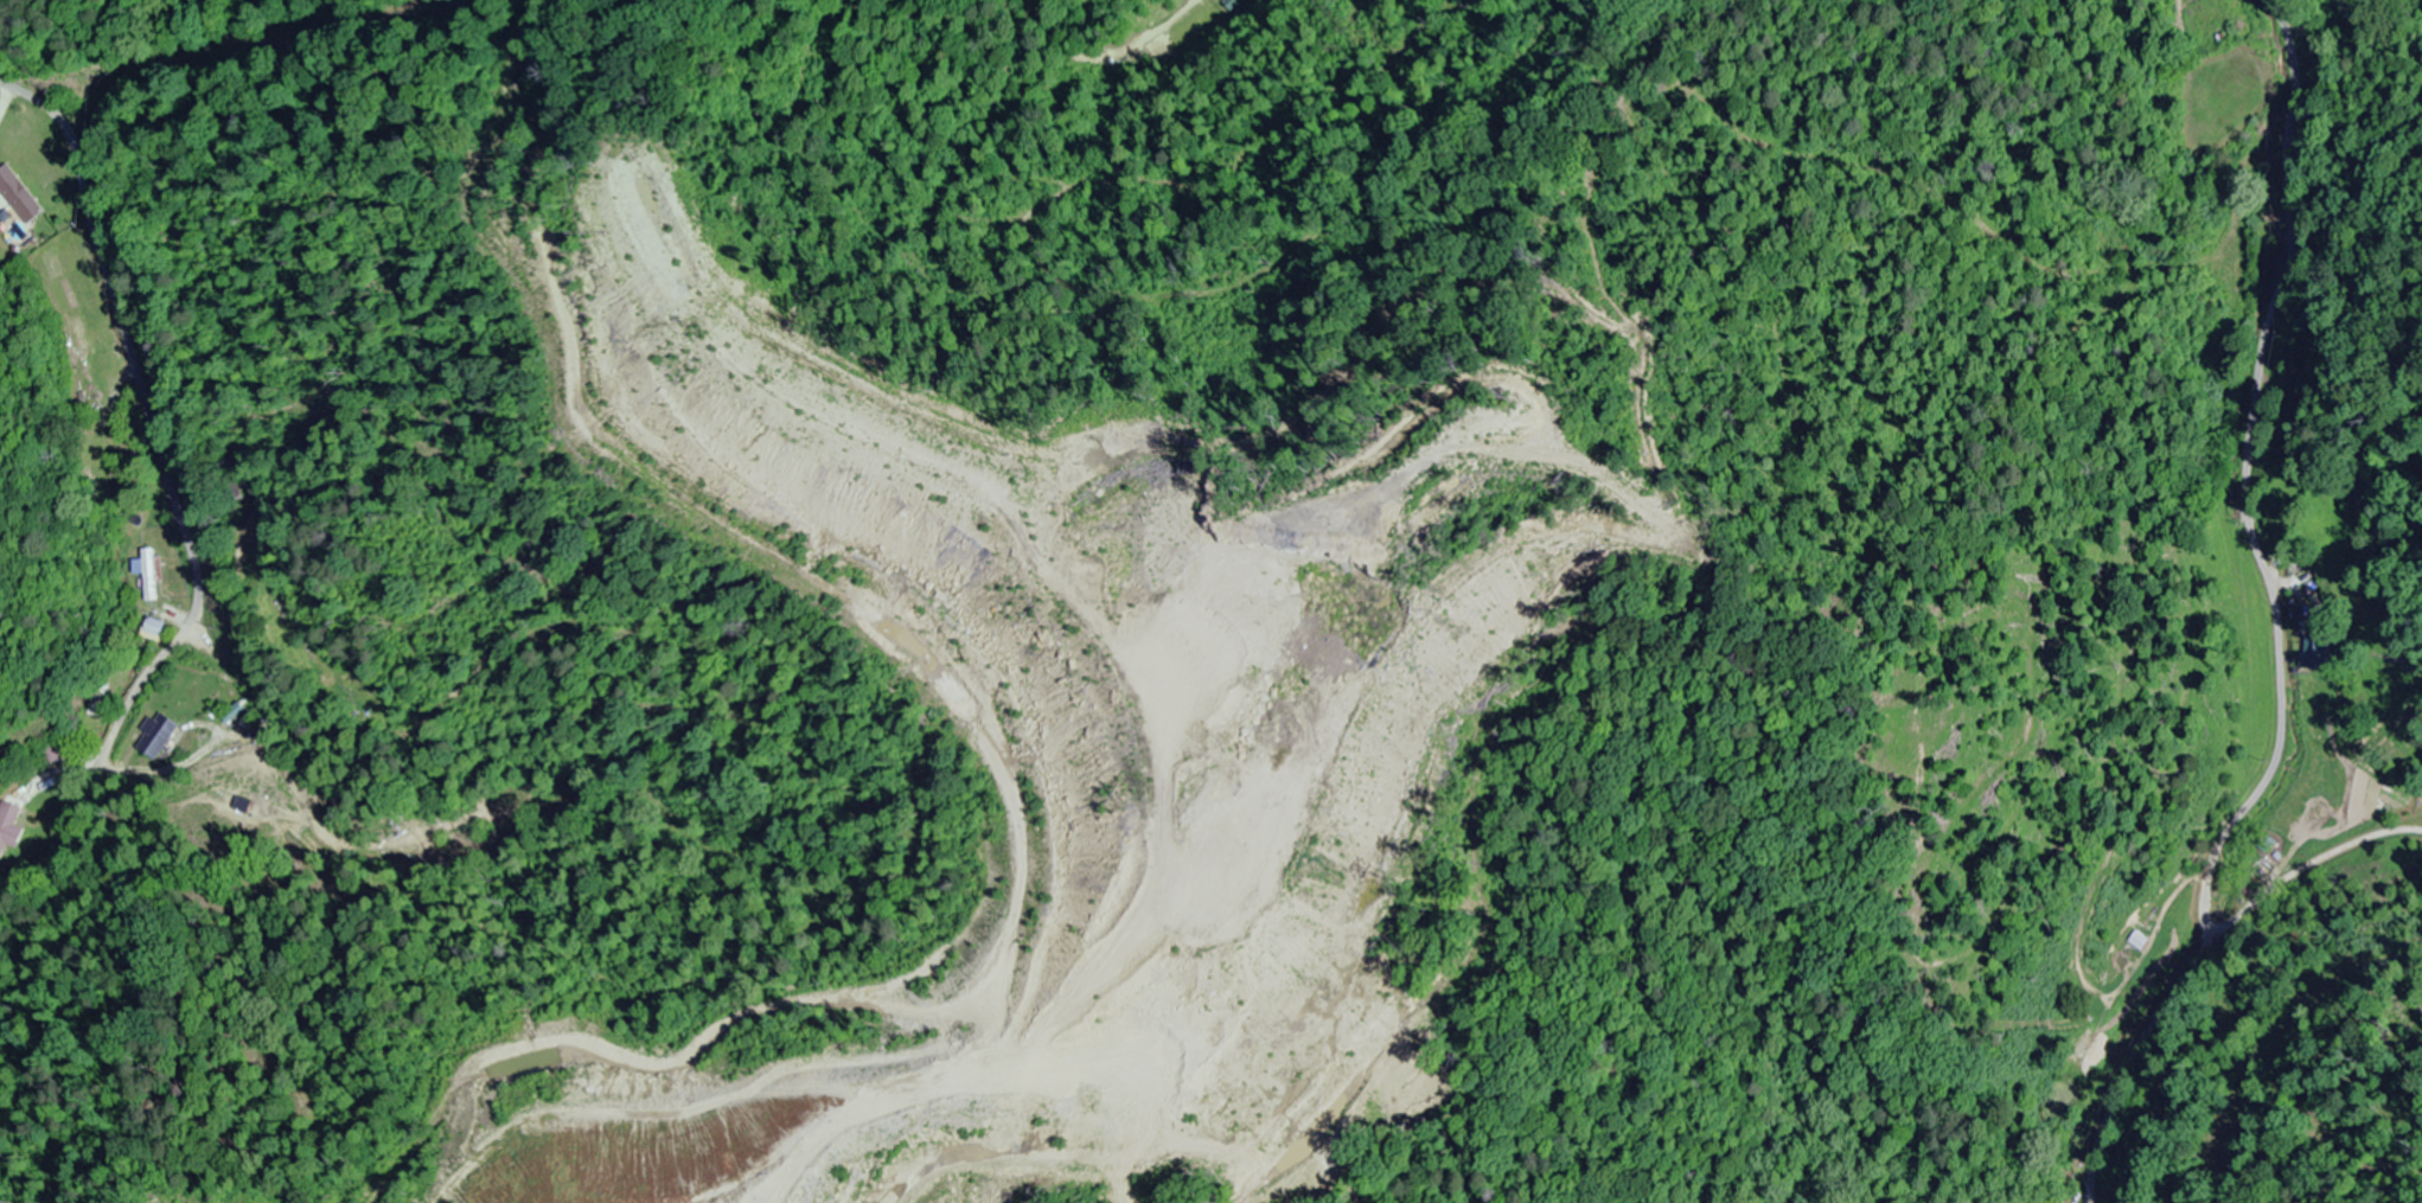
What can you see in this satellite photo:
building: (18, 196)
building: (94, 375)
building: (235, 491)
road: (166, 500)
building: (151, 575)
road: (2276, 626)
building: (152, 631)
building: (2315, 653)
road: (2354, 691)
building: (155, 738)
building: (50, 755)
building: (9, 831)
building: (2132, 946)

